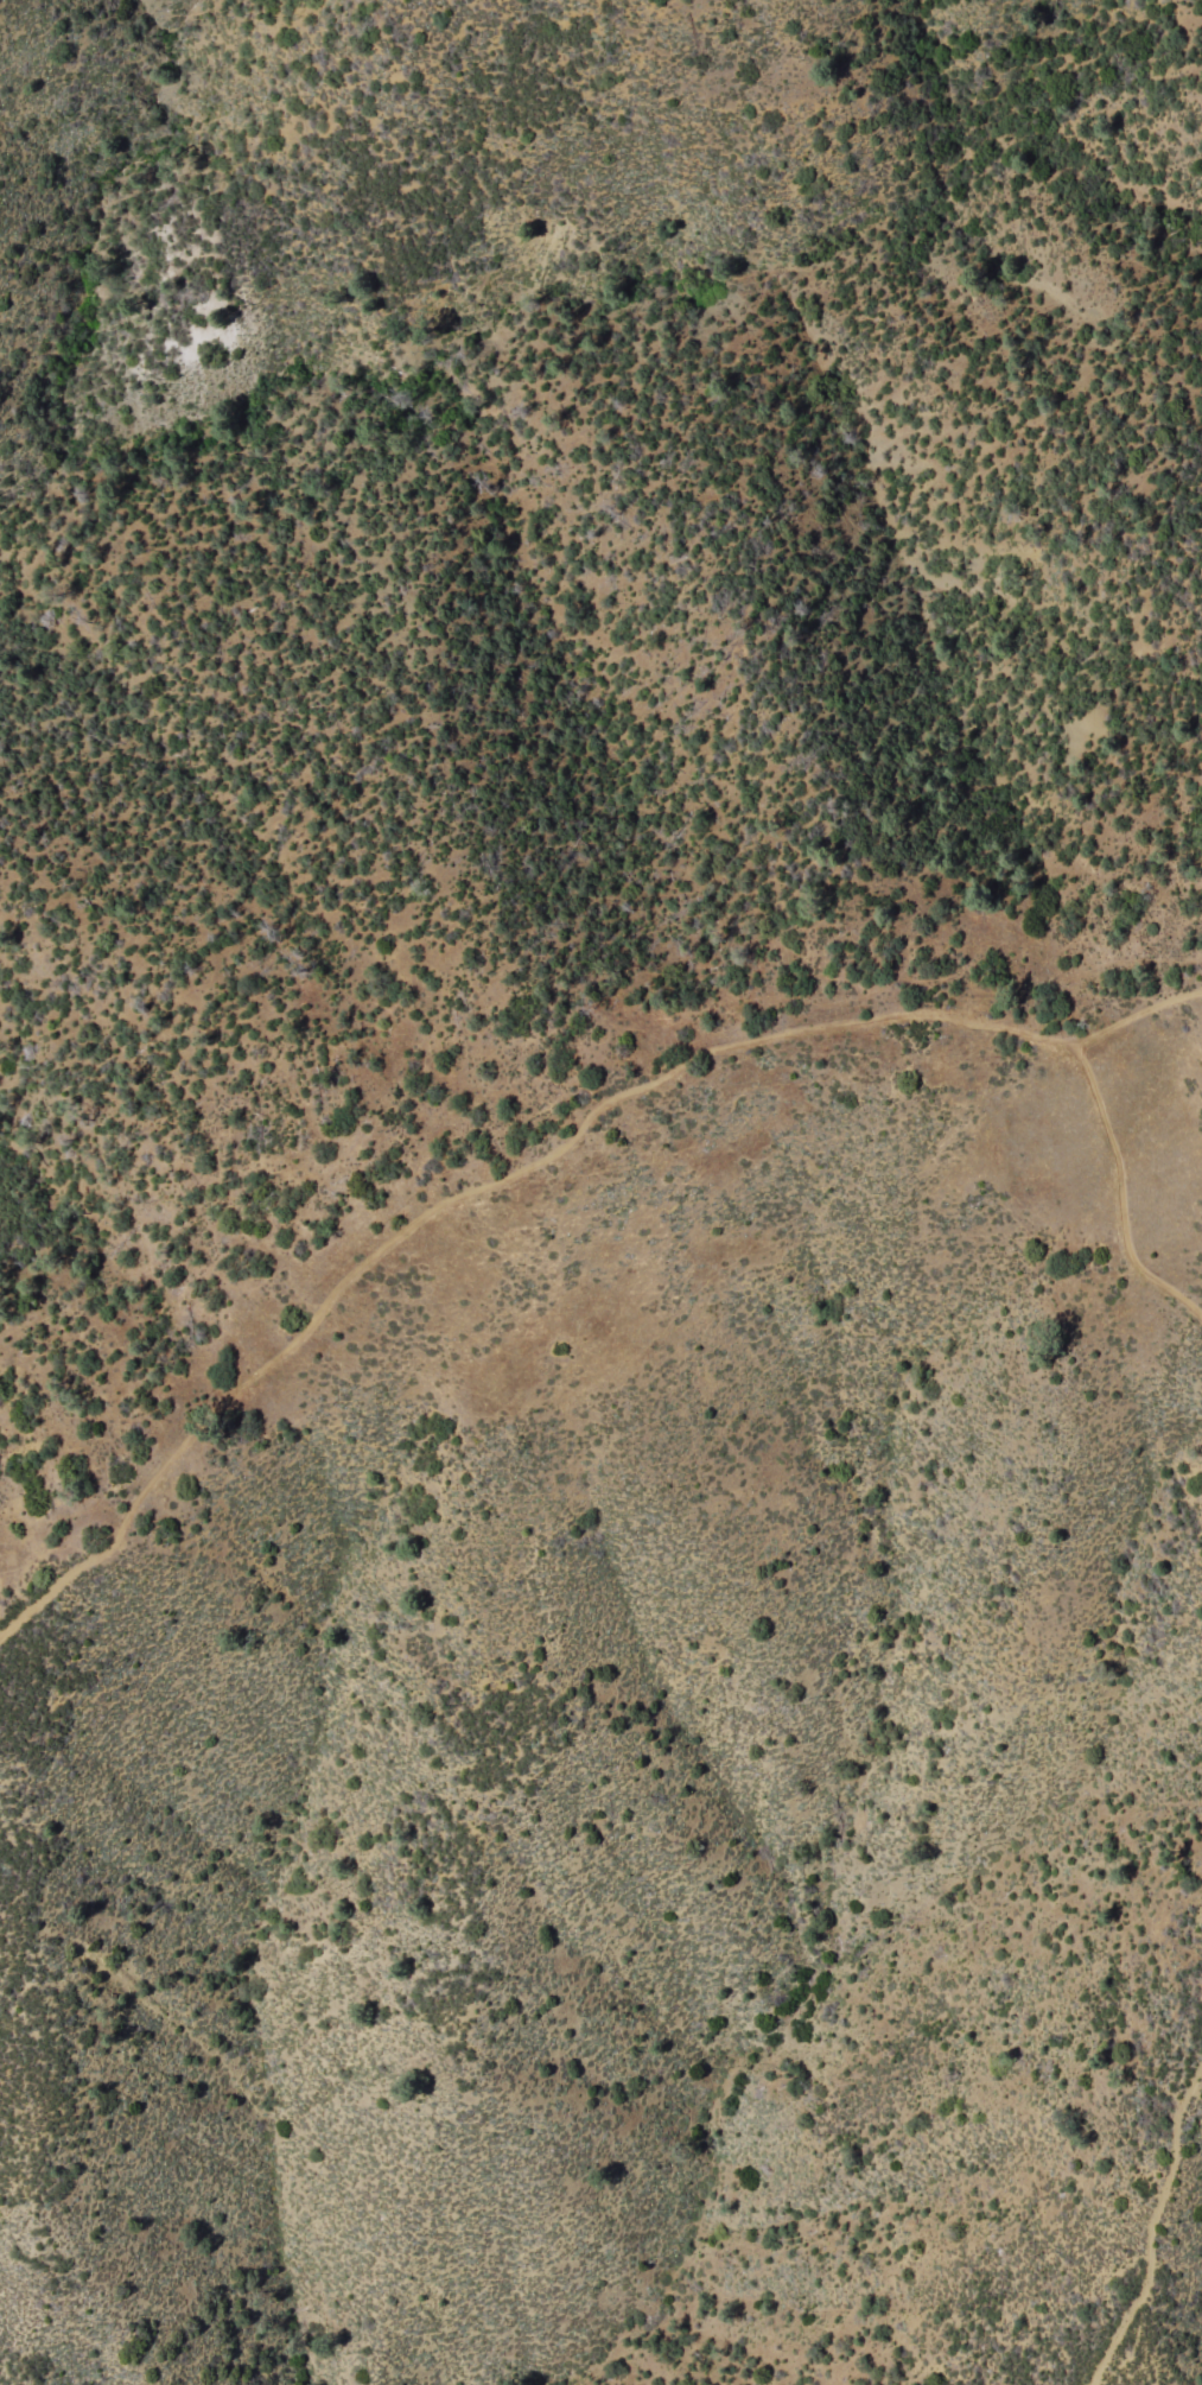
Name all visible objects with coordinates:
road: (1108, 1187)

